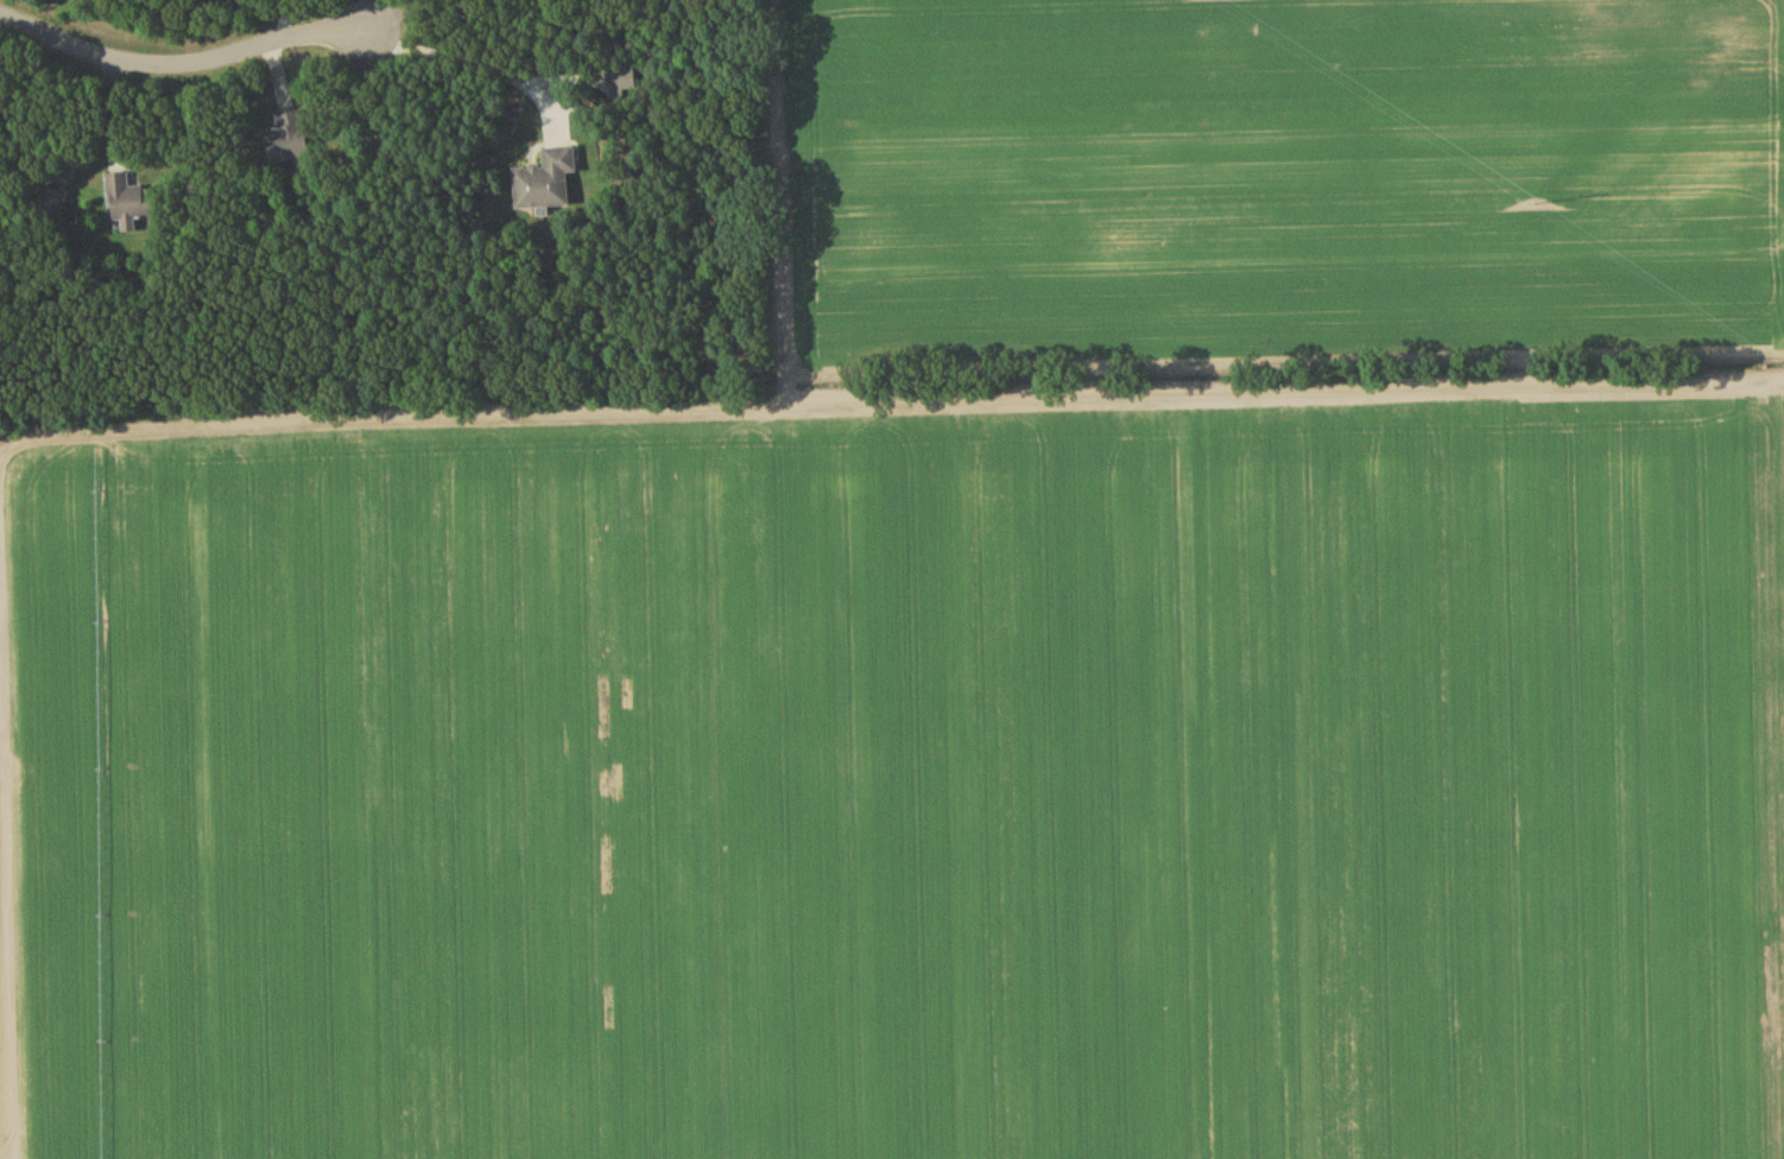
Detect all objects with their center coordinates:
road: (391, 19)
road: (57, 21)
road: (289, 23)
road: (473, 61)
road: (183, 68)
building: (286, 138)
building: (546, 184)
building: (129, 204)
building: (49, 205)
road: (10, 1153)

